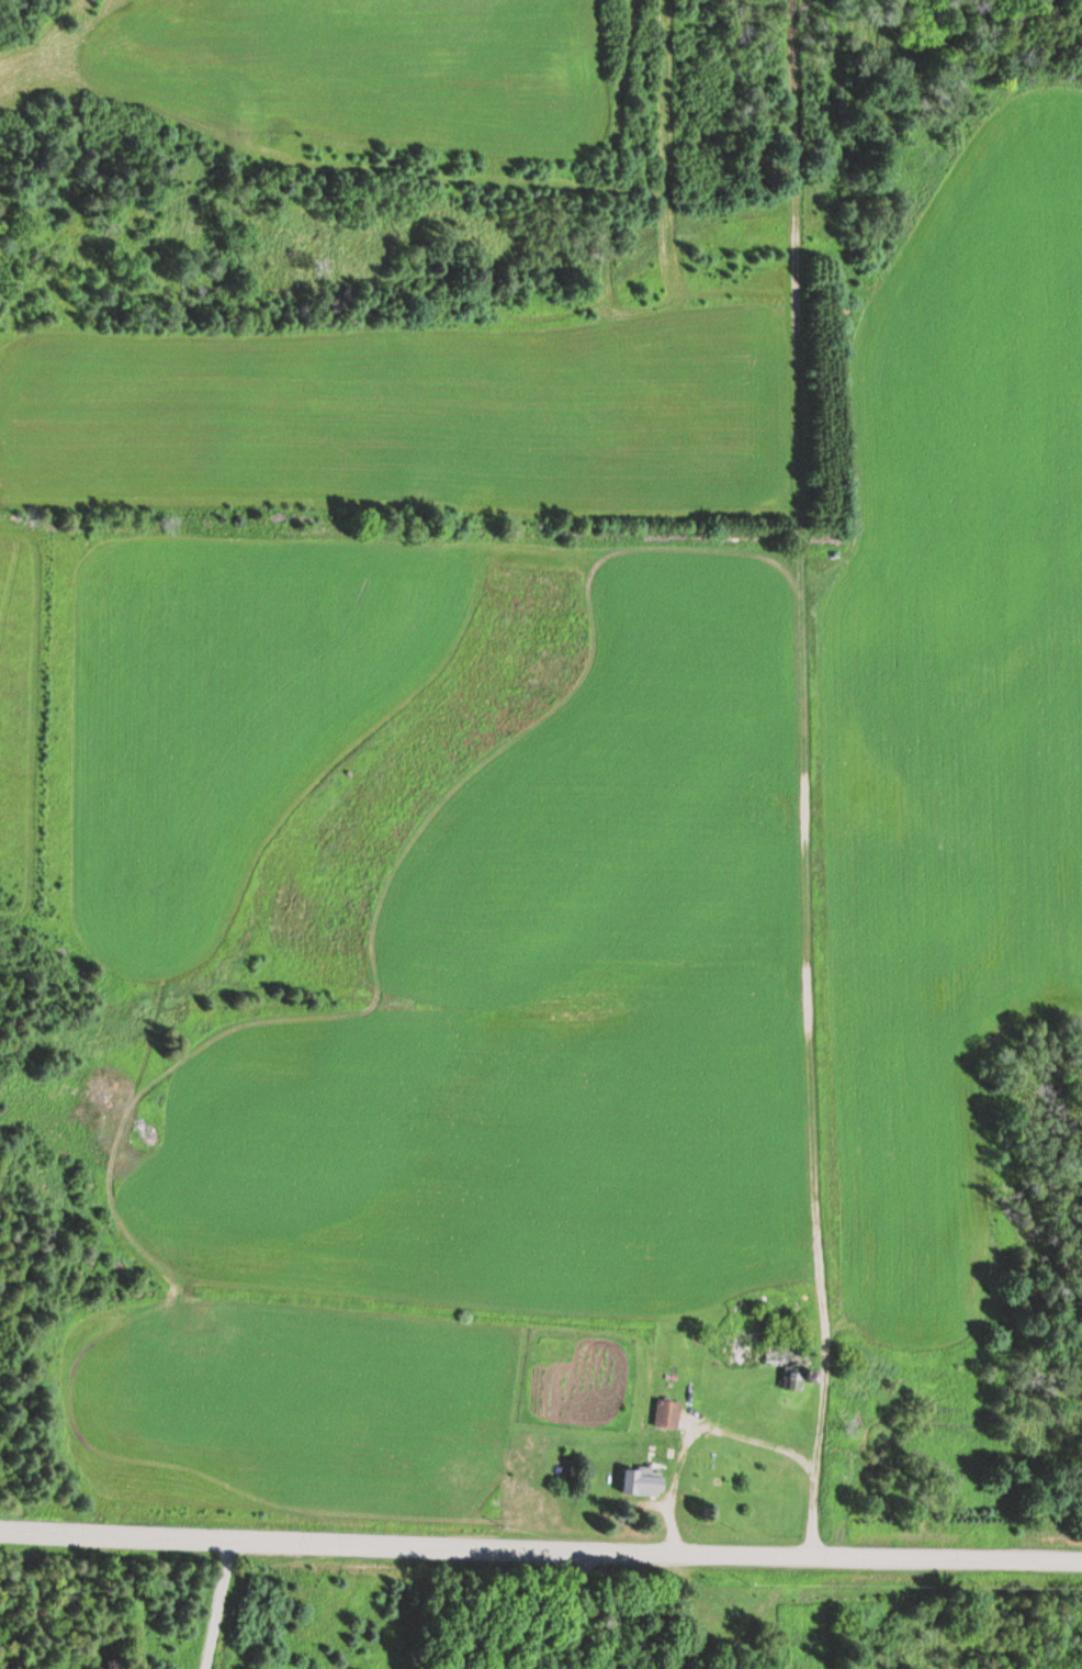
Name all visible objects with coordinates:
building: (666, 1414)
building: (640, 1482)
road: (540, 1549)

